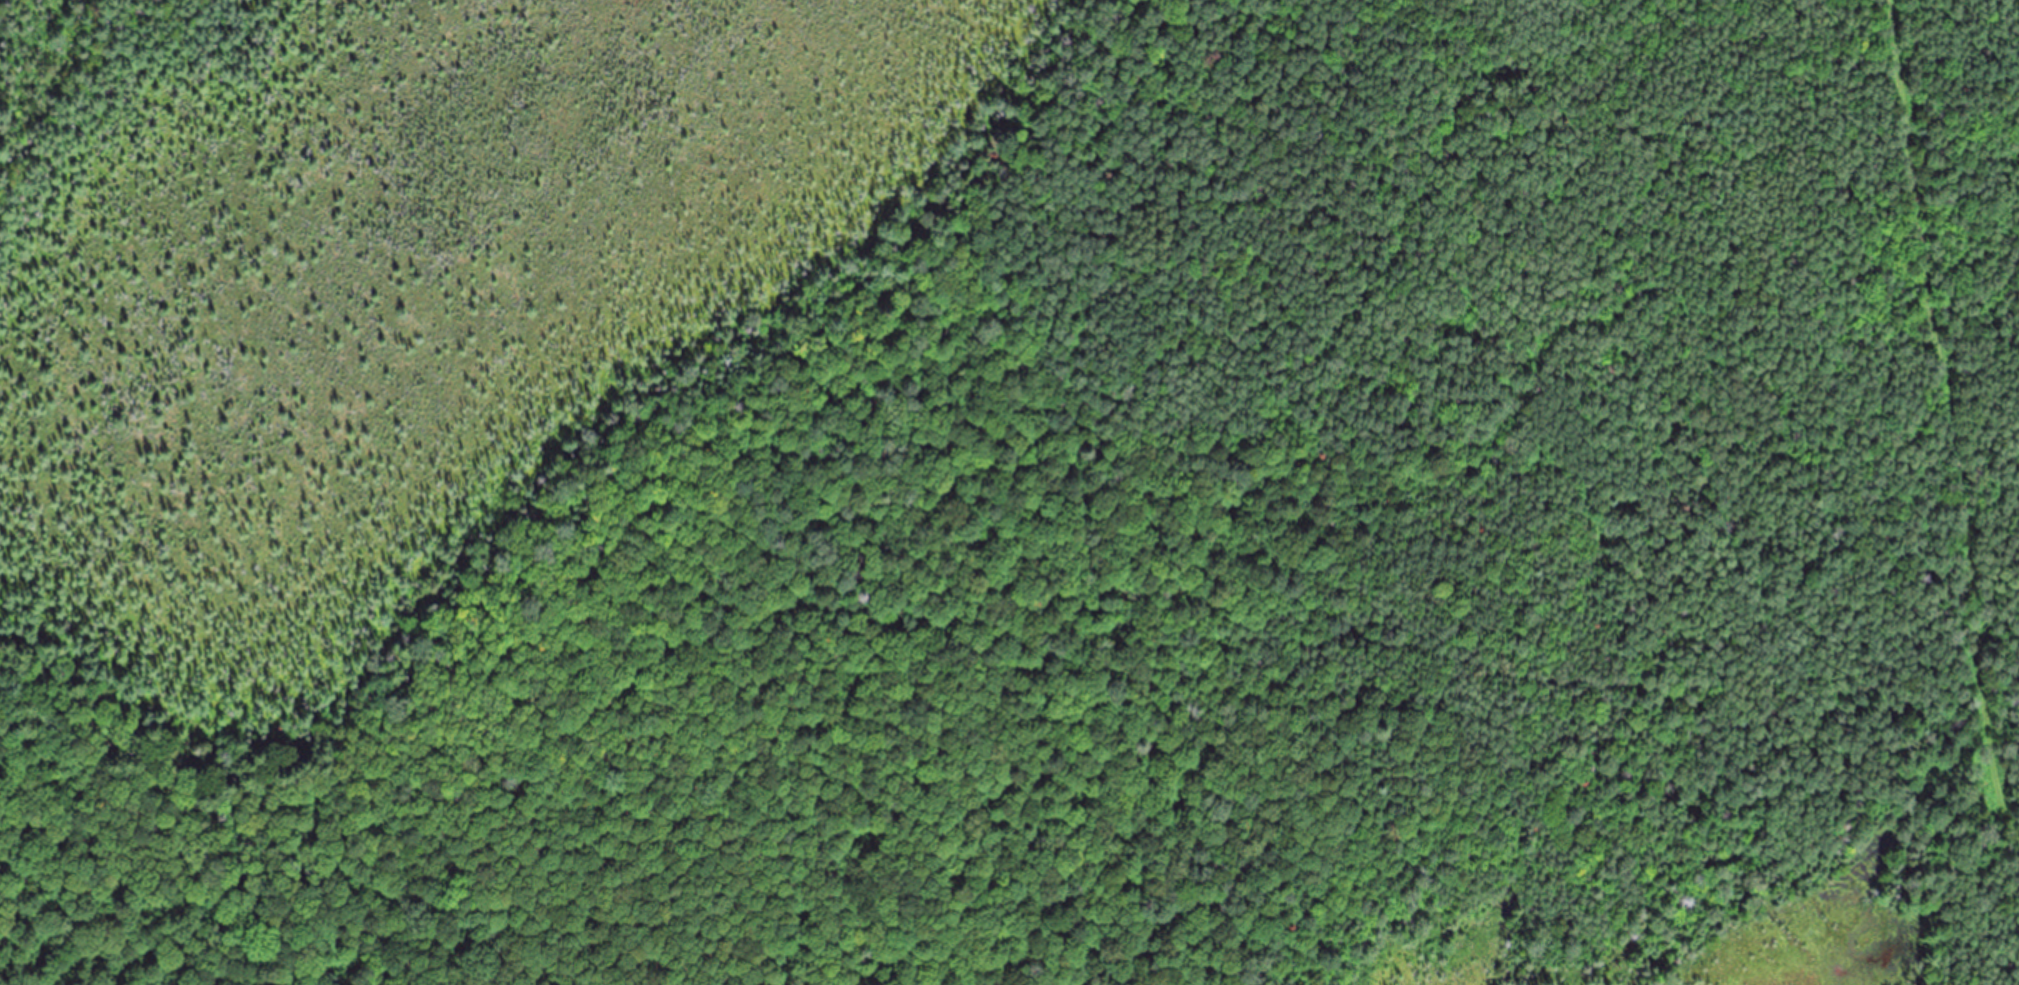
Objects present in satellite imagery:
road: (1948, 427)

